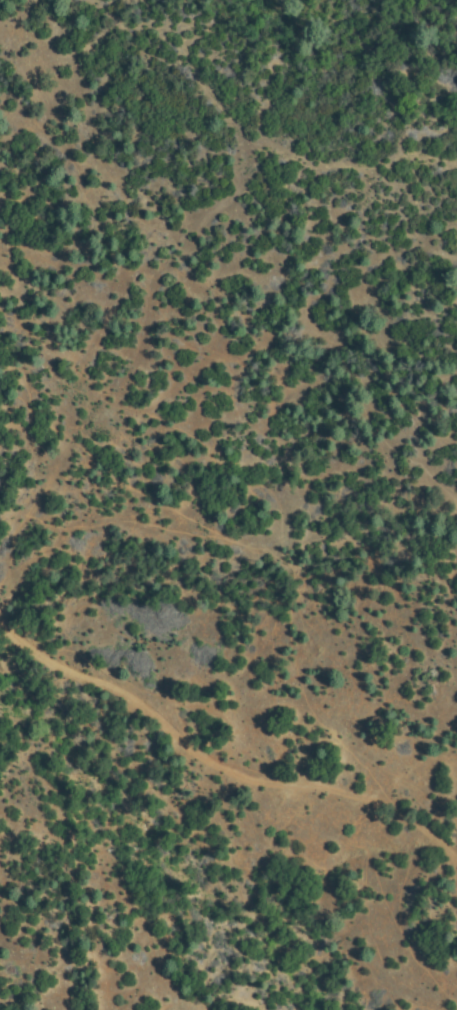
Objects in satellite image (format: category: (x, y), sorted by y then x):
road: (220, 773)

